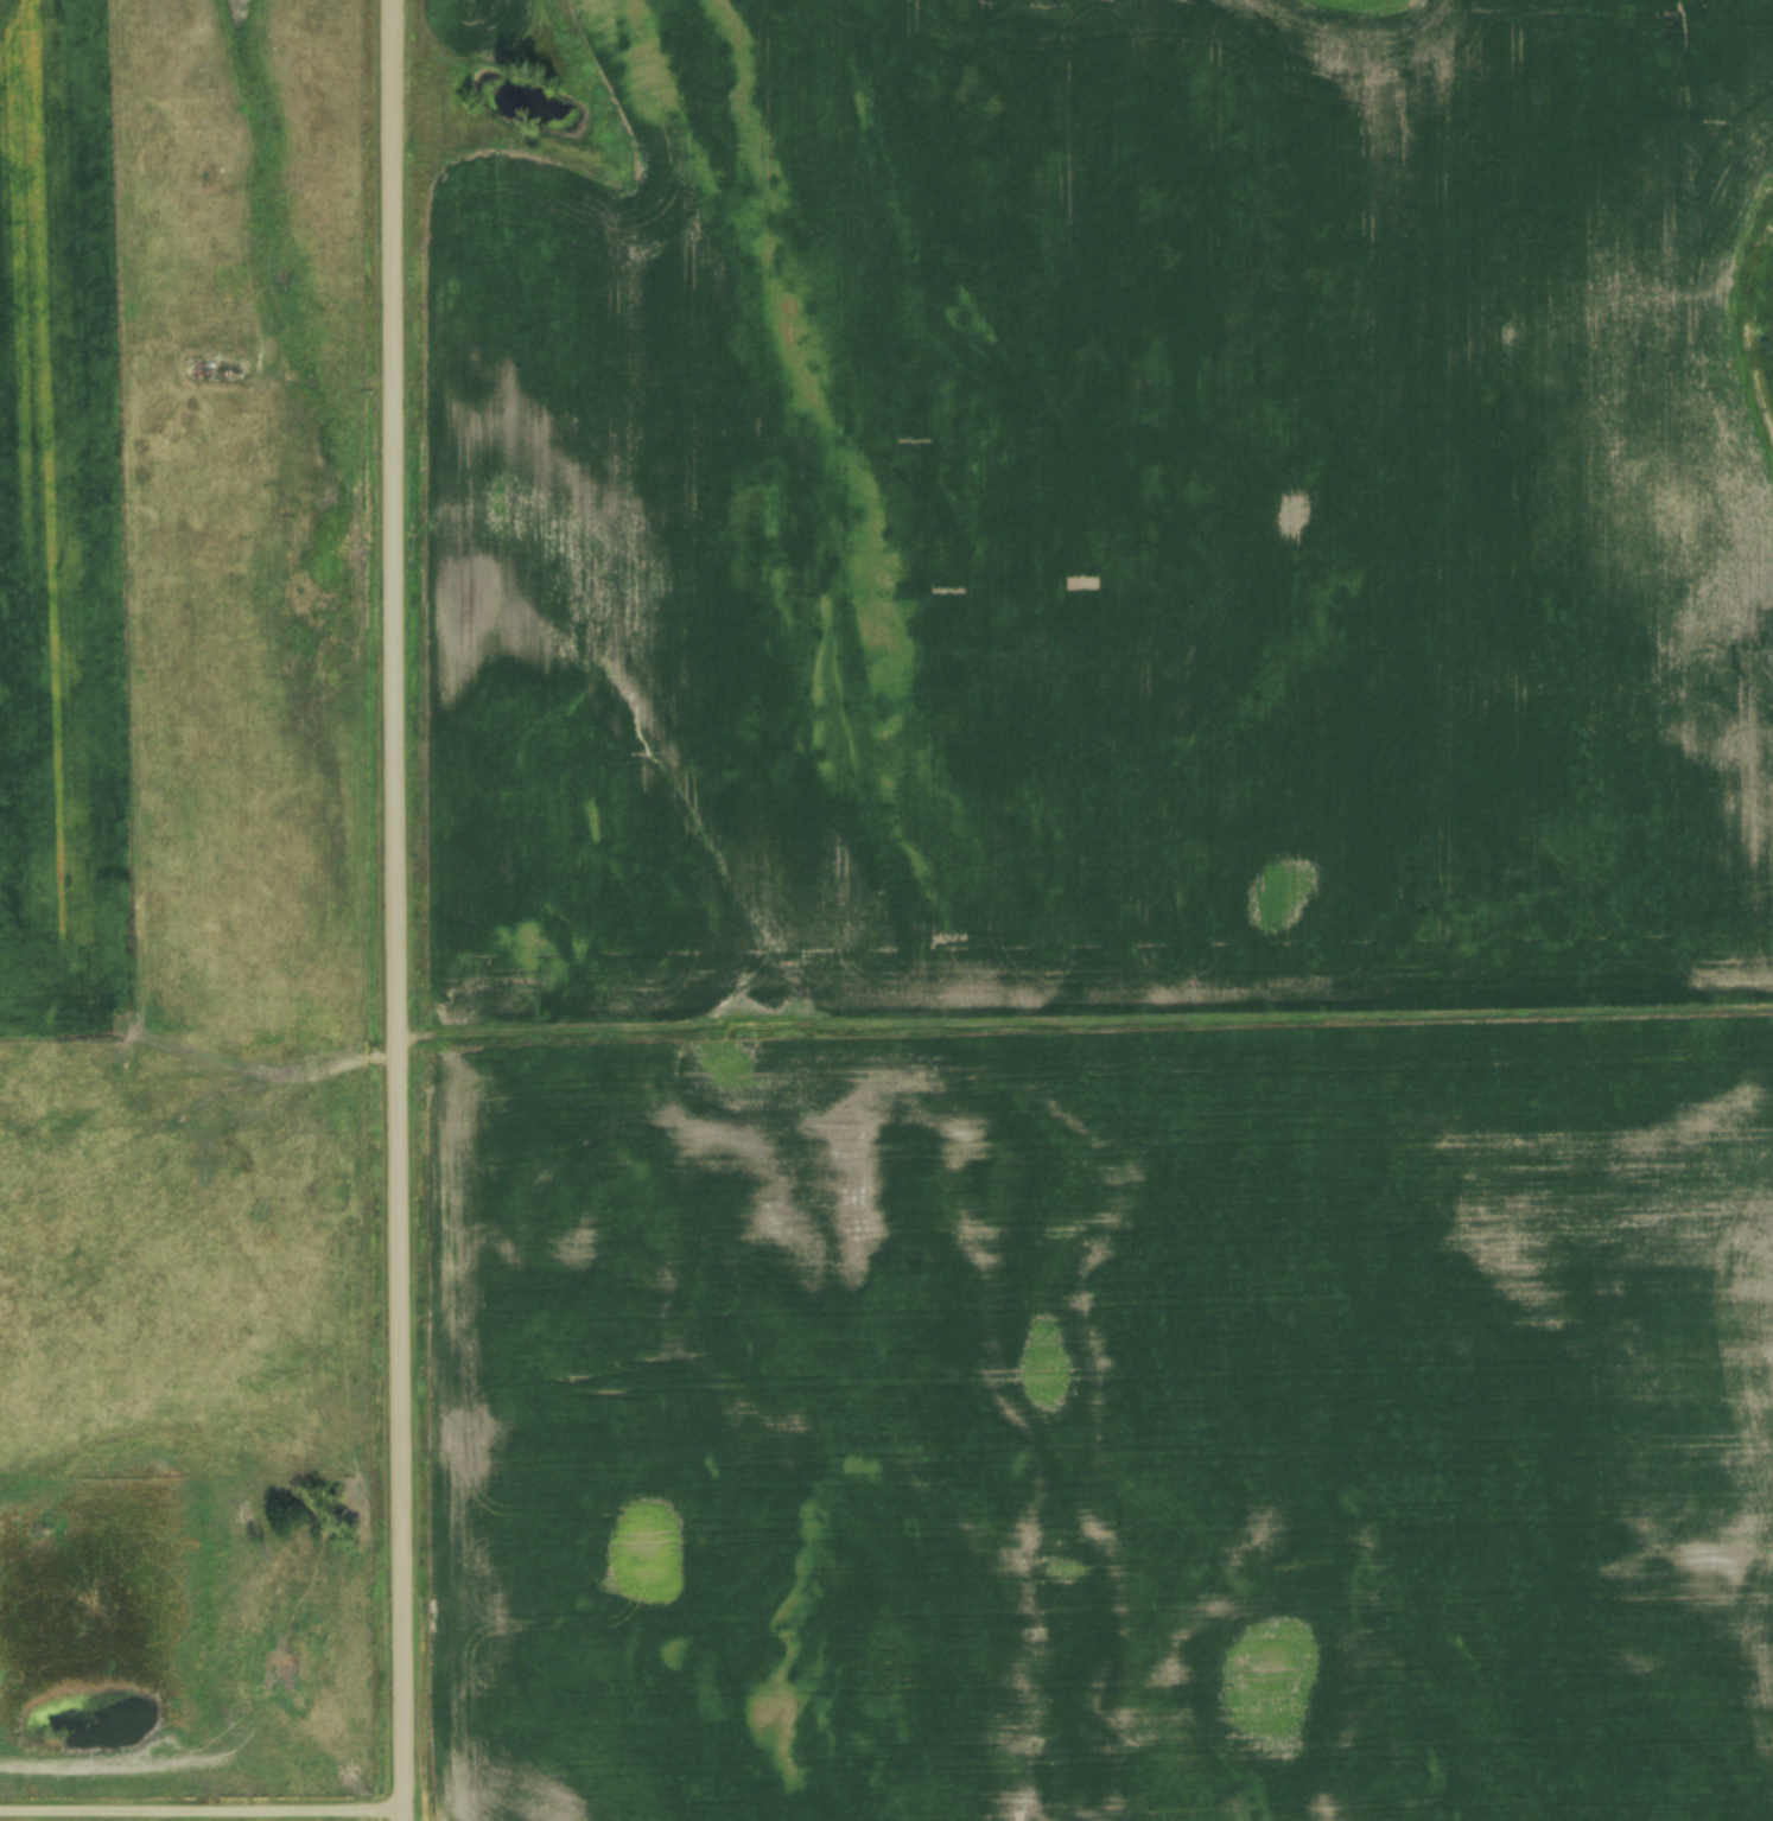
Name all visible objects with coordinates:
road: (402, 910)

